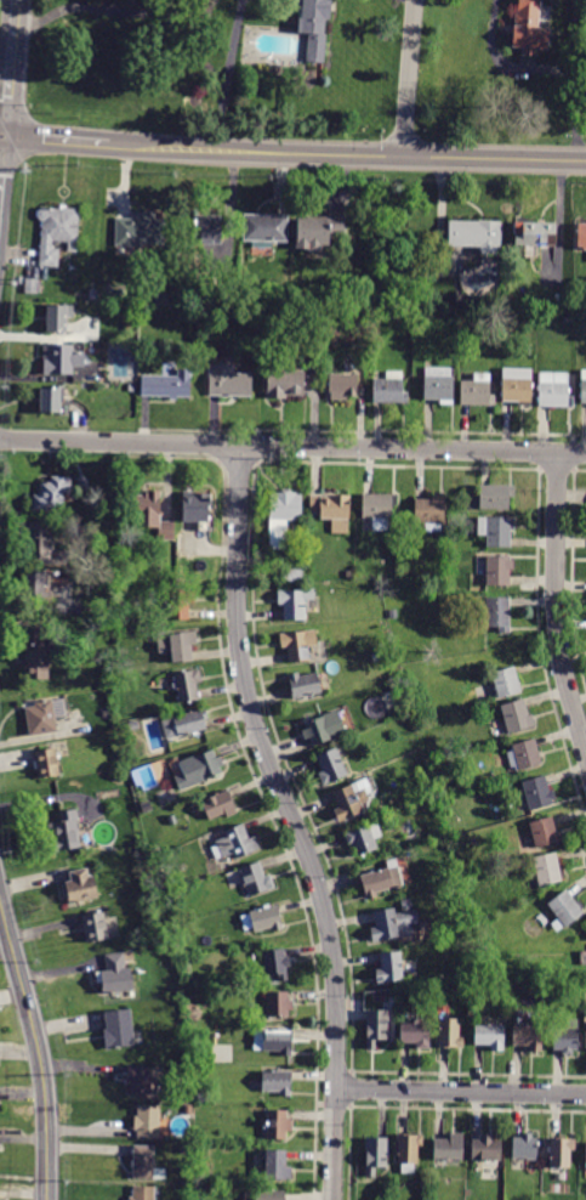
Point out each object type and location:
road: (89, 9)
building: (314, 27)
building: (530, 28)
road: (541, 67)
road: (13, 68)
road: (229, 75)
road: (406, 78)
road: (2, 135)
traffic signals: (5, 136)
road: (56, 140)
road: (346, 154)
road: (1, 157)
building: (140, 230)
building: (206, 230)
building: (266, 230)
building: (317, 231)
building: (57, 232)
building: (535, 233)
building: (474, 234)
building: (581, 236)
building: (32, 287)
building: (92, 294)
building: (161, 299)
building: (58, 317)
building: (132, 350)
building: (62, 360)
building: (228, 381)
building: (283, 381)
building: (166, 385)
building: (439, 385)
building: (517, 385)
building: (342, 386)
building: (584, 387)
building: (389, 389)
building: (553, 390)
building: (477, 391)
building: (51, 400)
road: (292, 446)
building: (51, 494)
building: (495, 497)
building: (195, 506)
building: (331, 510)
building: (377, 510)
building: (150, 513)
building: (429, 514)
building: (283, 516)
building: (496, 531)
building: (39, 540)
building: (294, 553)
building: (499, 571)
building: (292, 573)
building: (348, 574)
building: (385, 581)
building: (36, 585)
building: (178, 604)
building: (294, 604)
road: (554, 604)
building: (497, 612)
building: (393, 615)
building: (297, 645)
building: (176, 646)
building: (35, 655)
building: (375, 657)
building: (115, 664)
building: (506, 683)
building: (115, 685)
building: (187, 685)
building: (303, 685)
building: (398, 686)
building: (45, 717)
building: (517, 717)
building: (184, 724)
building: (133, 726)
building: (324, 729)
building: (523, 755)
building: (47, 763)
building: (330, 768)
building: (198, 770)
building: (537, 793)
building: (351, 799)
building: (220, 805)
building: (147, 806)
road: (294, 821)
building: (64, 832)
building: (544, 833)
building: (364, 839)
building: (234, 844)
building: (155, 849)
building: (547, 868)
building: (160, 876)
building: (468, 877)
building: (255, 879)
building: (381, 879)
building: (450, 882)
building: (80, 887)
building: (404, 904)
building: (565, 909)
building: (262, 918)
building: (393, 923)
building: (96, 927)
building: (483, 947)
building: (275, 962)
building: (389, 967)
building: (116, 973)
building: (278, 1003)
building: (376, 1026)
building: (119, 1029)
building: (415, 1032)
building: (449, 1032)
building: (489, 1036)
building: (528, 1037)
building: (567, 1037)
building: (273, 1041)
road: (39, 1049)
building: (143, 1079)
building: (273, 1082)
road: (461, 1092)
building: (201, 1096)
building: (188, 1109)
building: (147, 1121)
building: (277, 1123)
building: (524, 1147)
building: (449, 1148)
building: (487, 1148)
building: (184, 1149)
building: (408, 1151)
building: (561, 1151)
building: (585, 1153)
building: (375, 1154)
building: (146, 1164)
building: (275, 1166)
road: (23, 1177)
building: (211, 1188)
building: (142, 1193)
building: (269, 1195)

